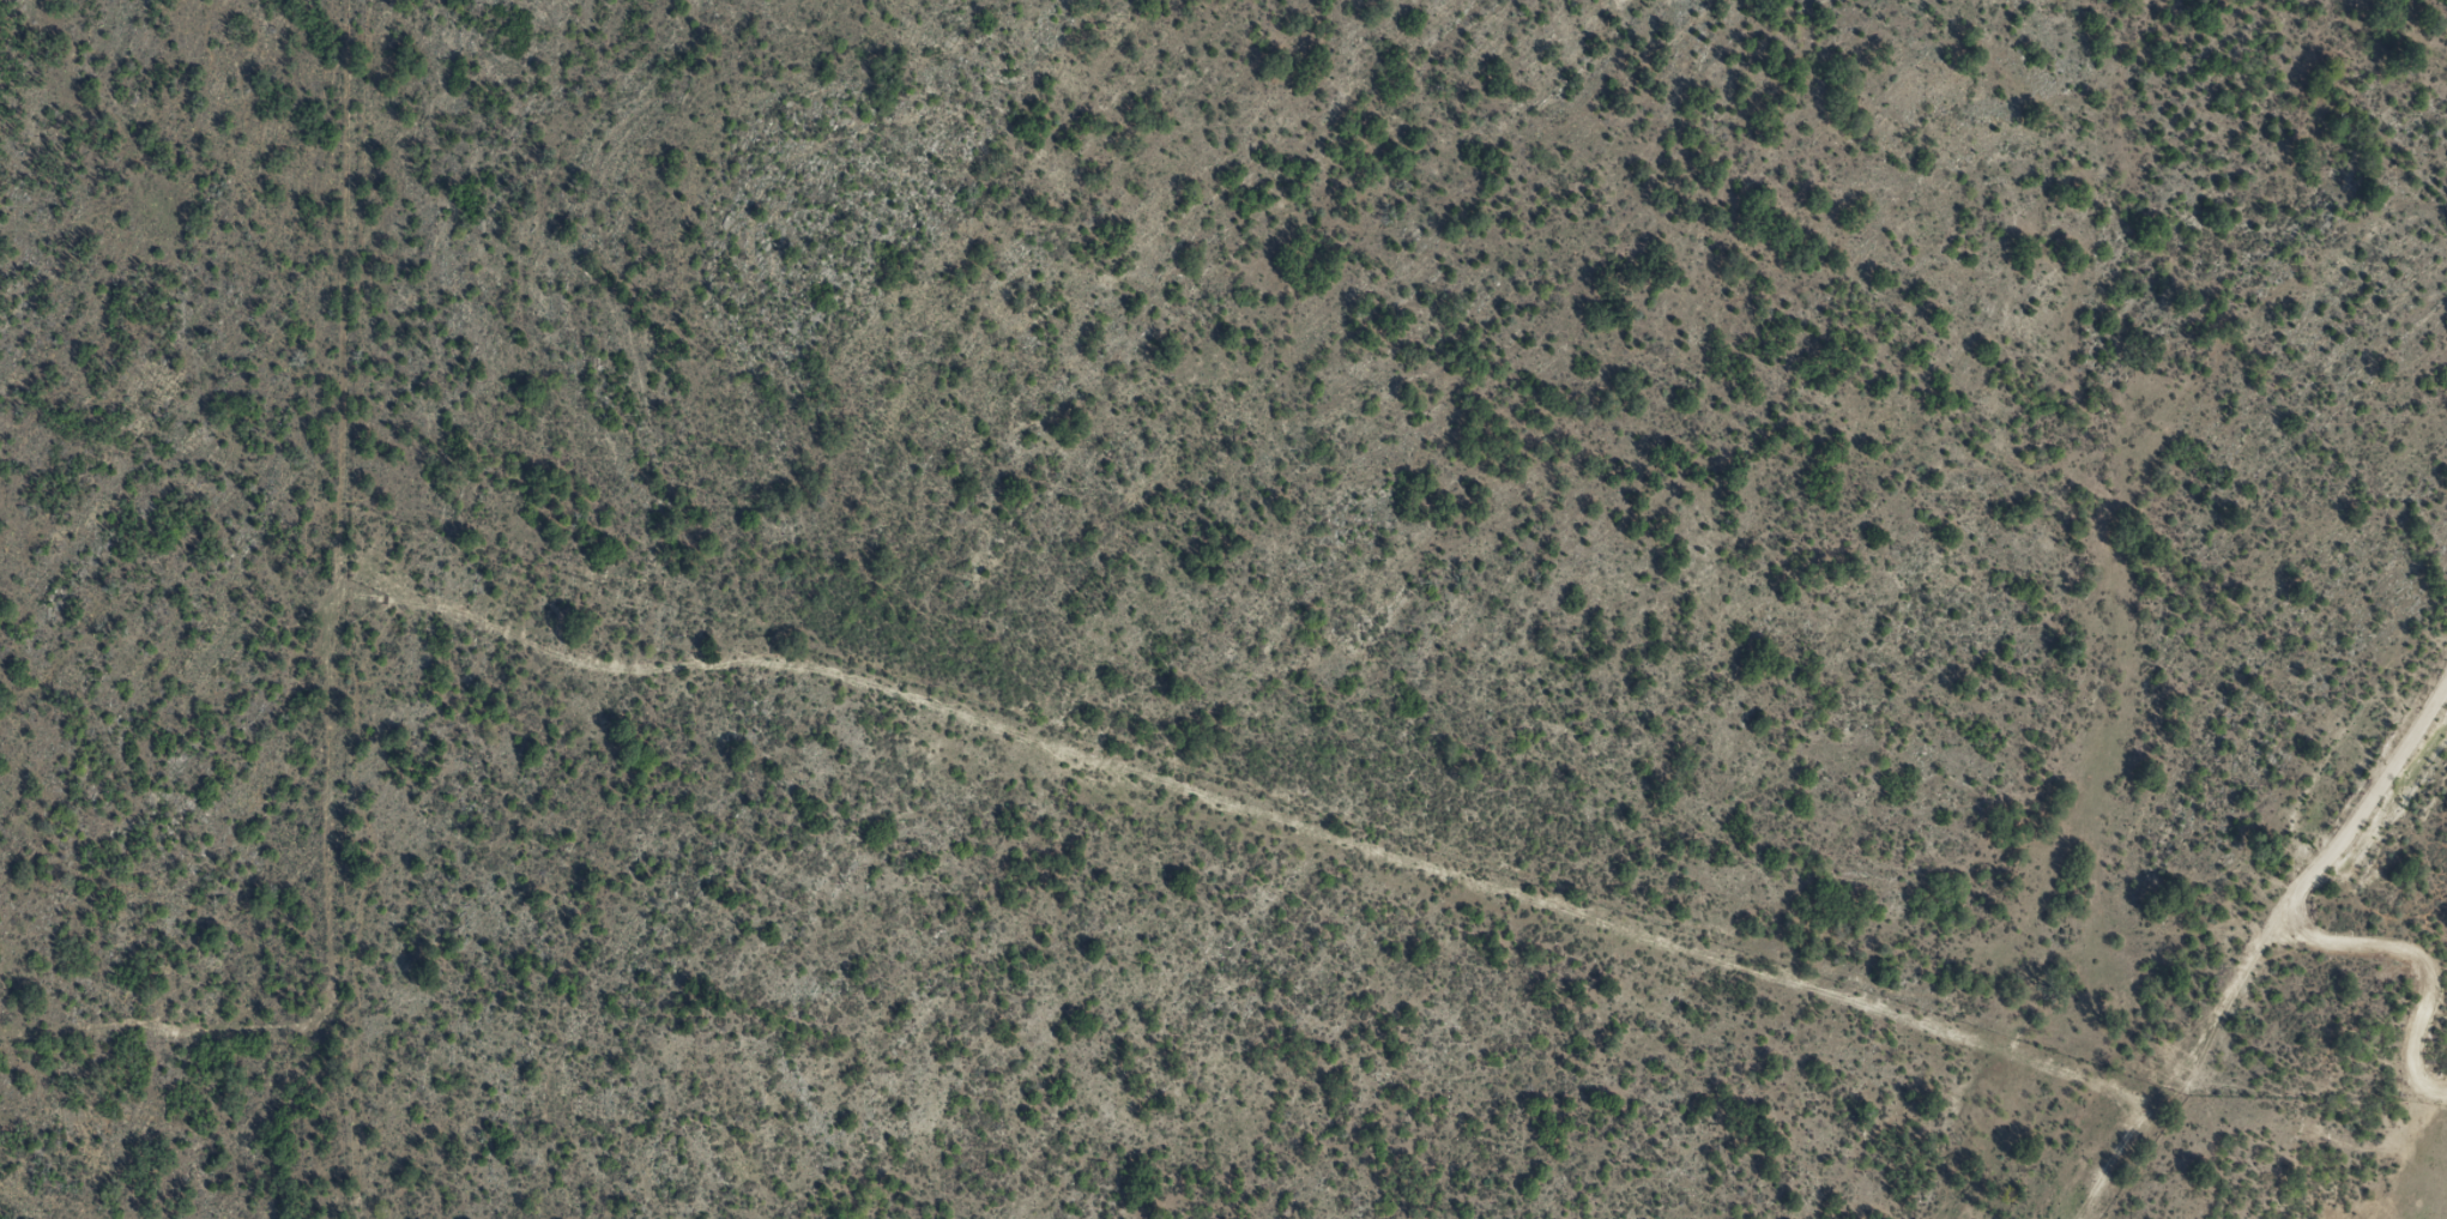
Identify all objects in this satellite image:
road: (2300, 1001)

